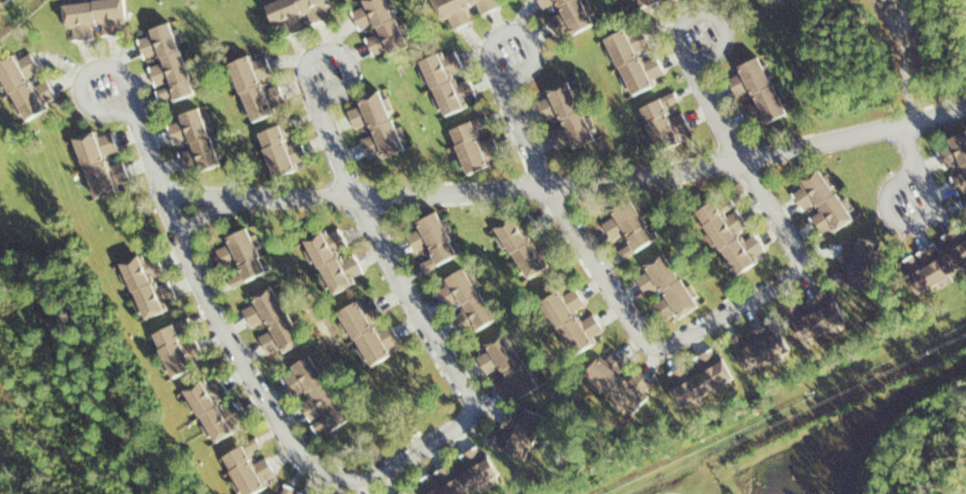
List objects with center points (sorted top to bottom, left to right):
building: (643, 2)
building: (462, 10)
building: (298, 13)
building: (568, 17)
building: (95, 18)
building: (379, 27)
building: (635, 60)
building: (166, 64)
building: (448, 82)
building: (26, 86)
building: (257, 88)
building: (757, 91)
road: (717, 106)
building: (565, 118)
building: (664, 121)
building: (376, 127)
road: (526, 133)
building: (194, 141)
road: (148, 143)
building: (474, 146)
building: (282, 149)
road: (338, 150)
building: (956, 159)
building: (100, 163)
road: (570, 183)
building: (823, 201)
road: (924, 217)
building: (629, 228)
building: (731, 233)
airport: (459, 234)
building: (432, 240)
building: (525, 245)
building: (241, 257)
building: (334, 260)
building: (938, 260)
building: (859, 262)
building: (148, 285)
building: (666, 288)
building: (465, 299)
building: (819, 317)
building: (571, 320)
building: (272, 321)
road: (701, 326)
building: (368, 330)
building: (178, 347)
building: (763, 347)
building: (507, 366)
building: (699, 377)
building: (618, 383)
building: (315, 396)
building: (213, 411)
building: (524, 434)
building: (248, 467)
road: (369, 471)
building: (466, 474)
building: (290, 491)
building: (408, 493)

